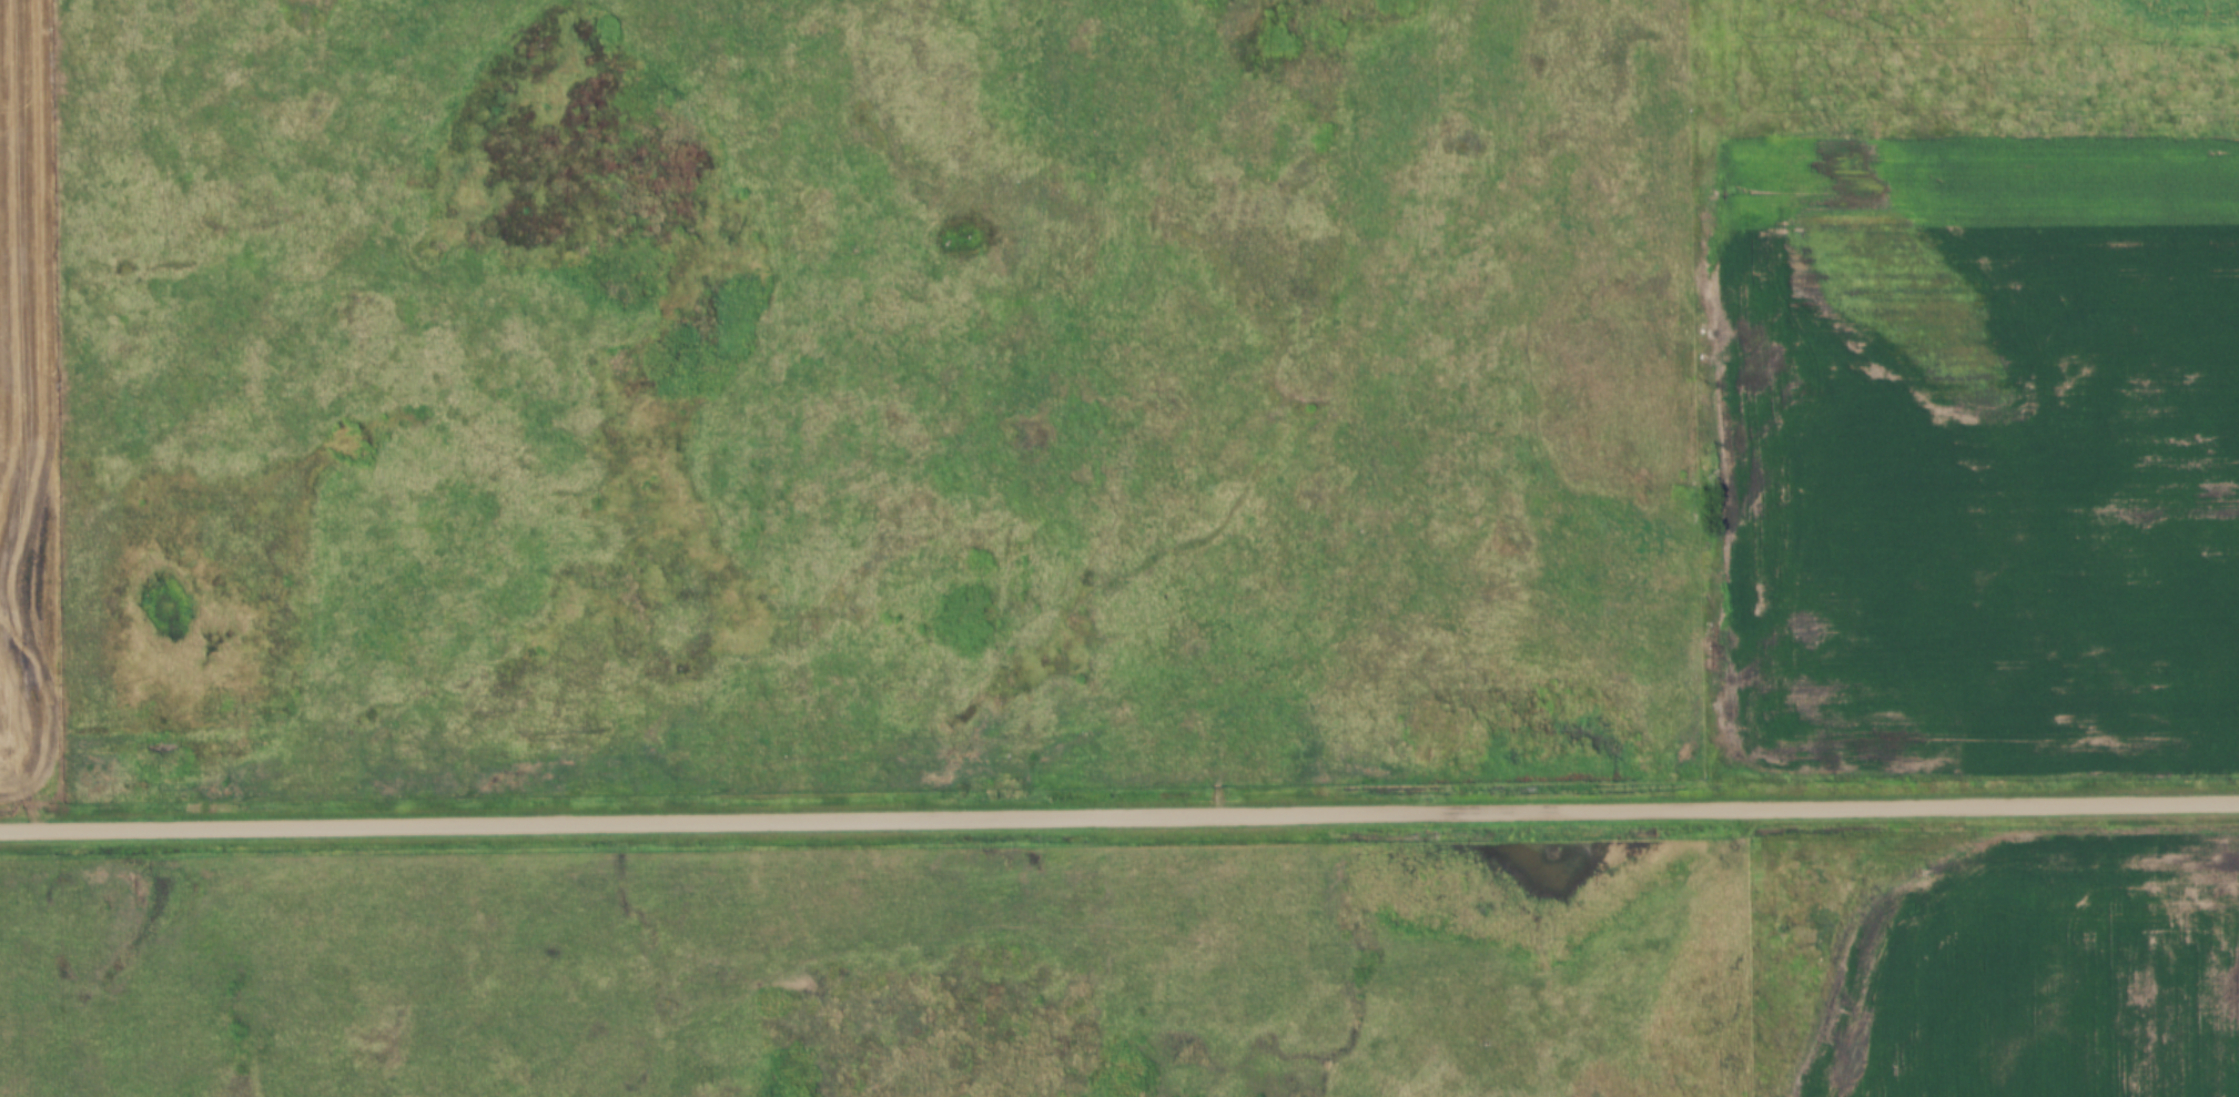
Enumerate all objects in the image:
road: (1119, 819)

